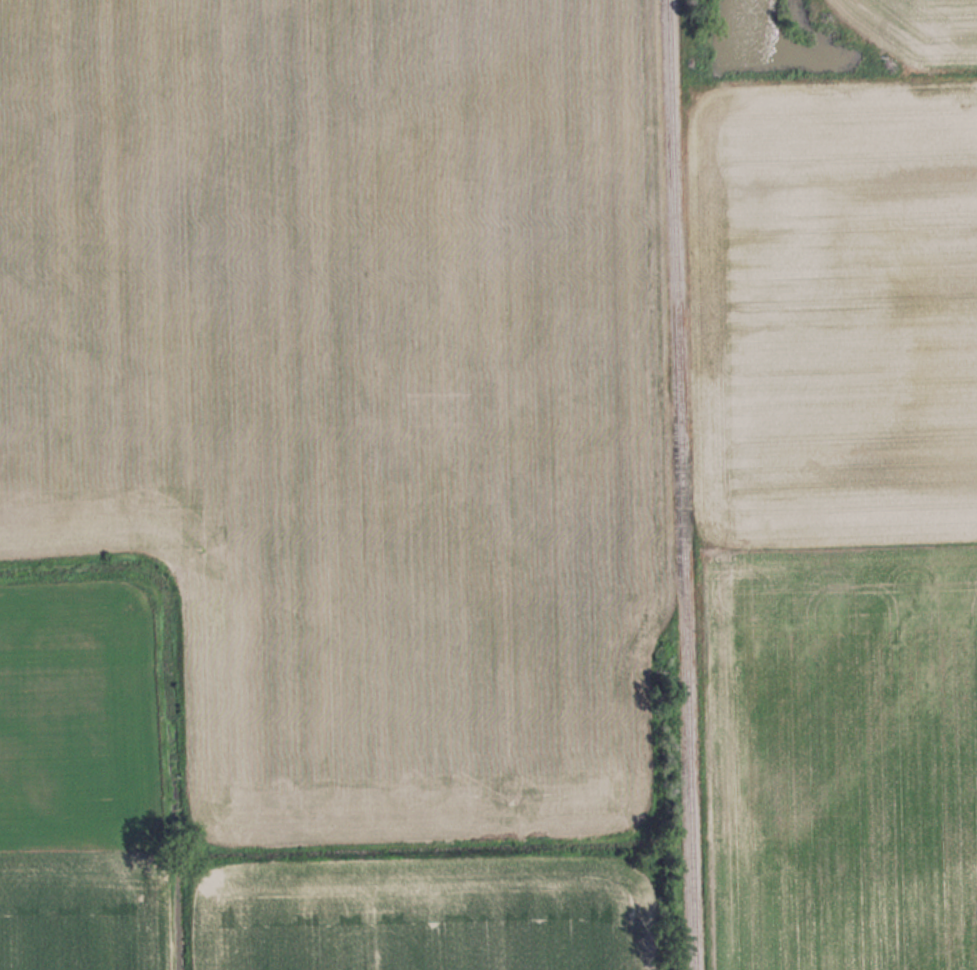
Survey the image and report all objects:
railway: (672, 113)
railway: (686, 598)

